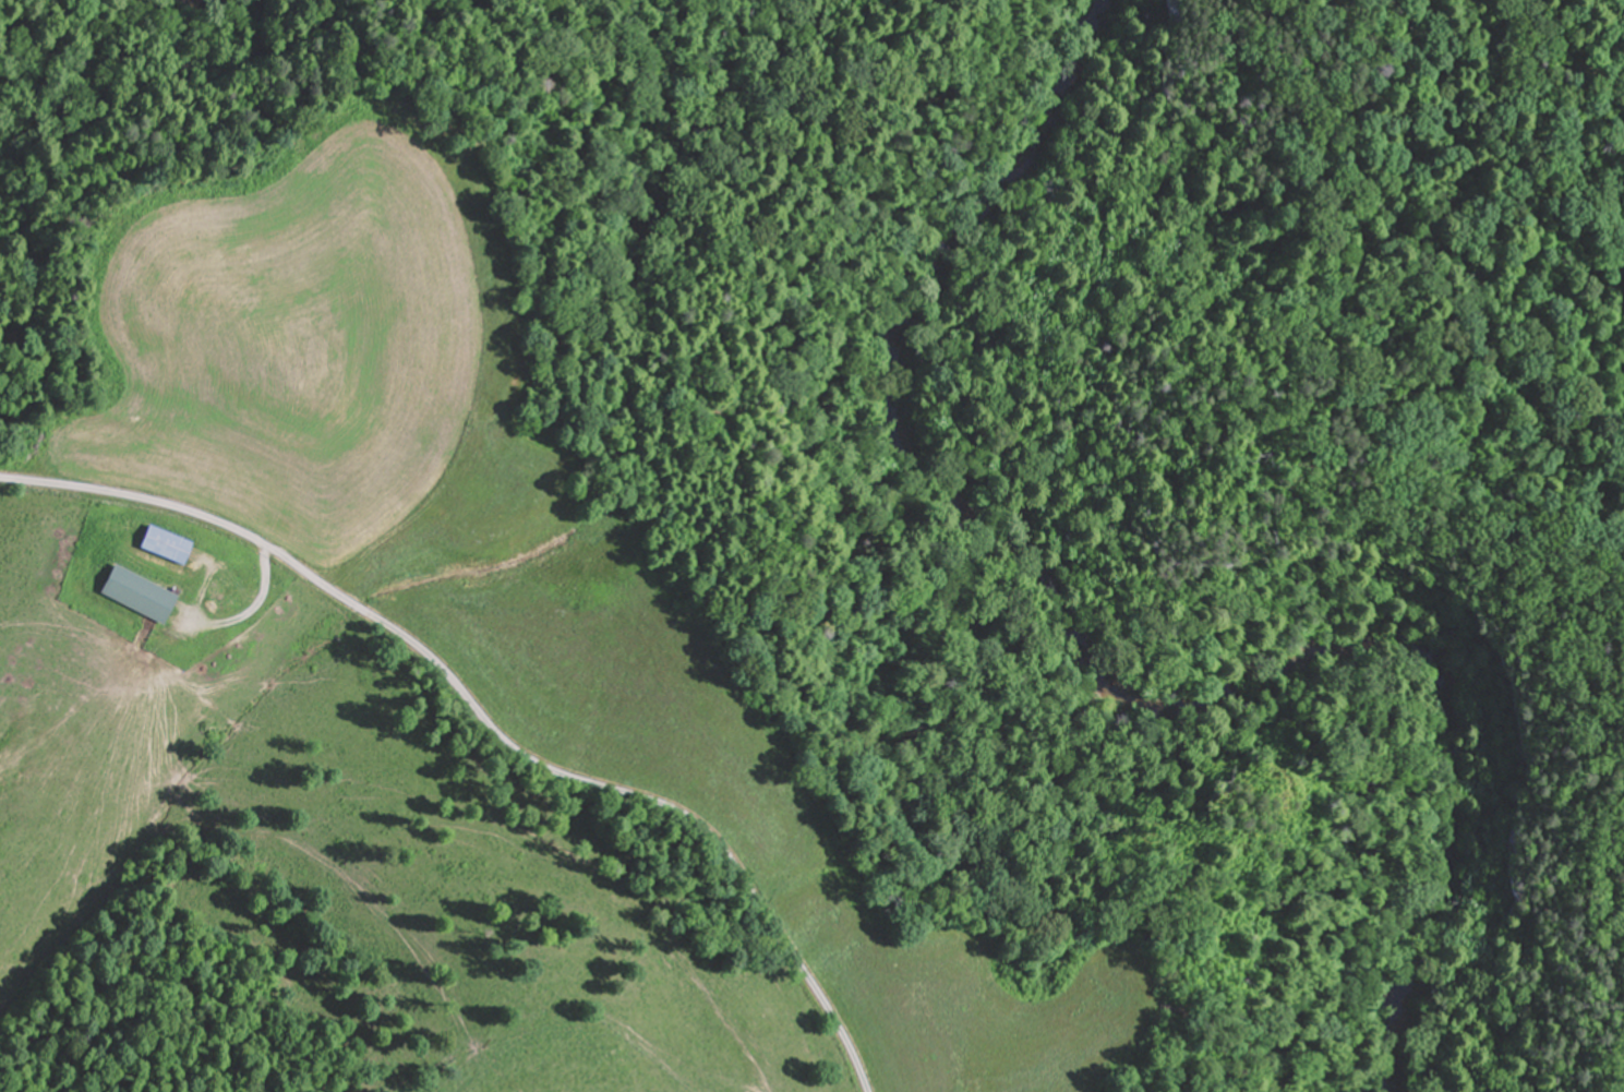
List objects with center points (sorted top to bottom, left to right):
building: (161, 544)
building: (134, 593)
road: (485, 719)

